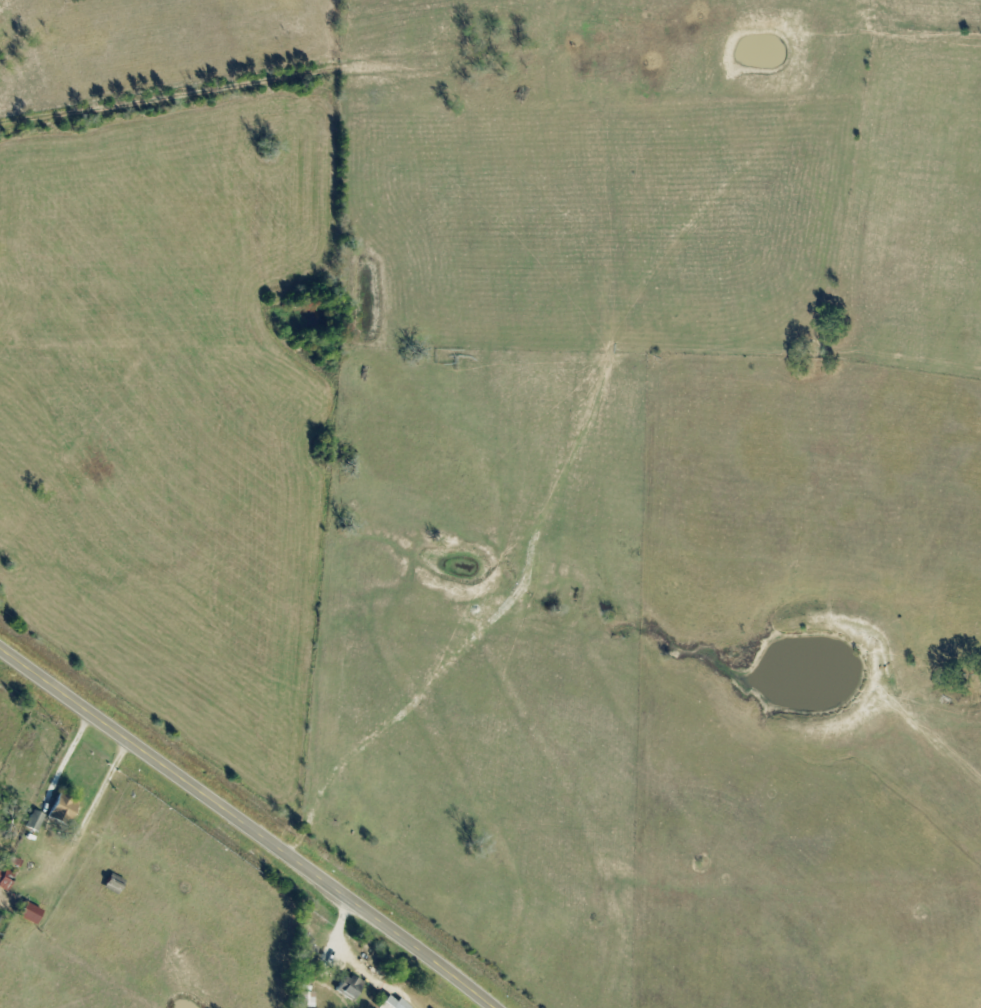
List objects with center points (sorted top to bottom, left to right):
building: (64, 809)
building: (33, 821)
road: (248, 825)
road: (80, 829)
building: (5, 879)
building: (113, 884)
building: (29, 913)
road: (341, 923)
building: (307, 965)
building: (348, 986)

